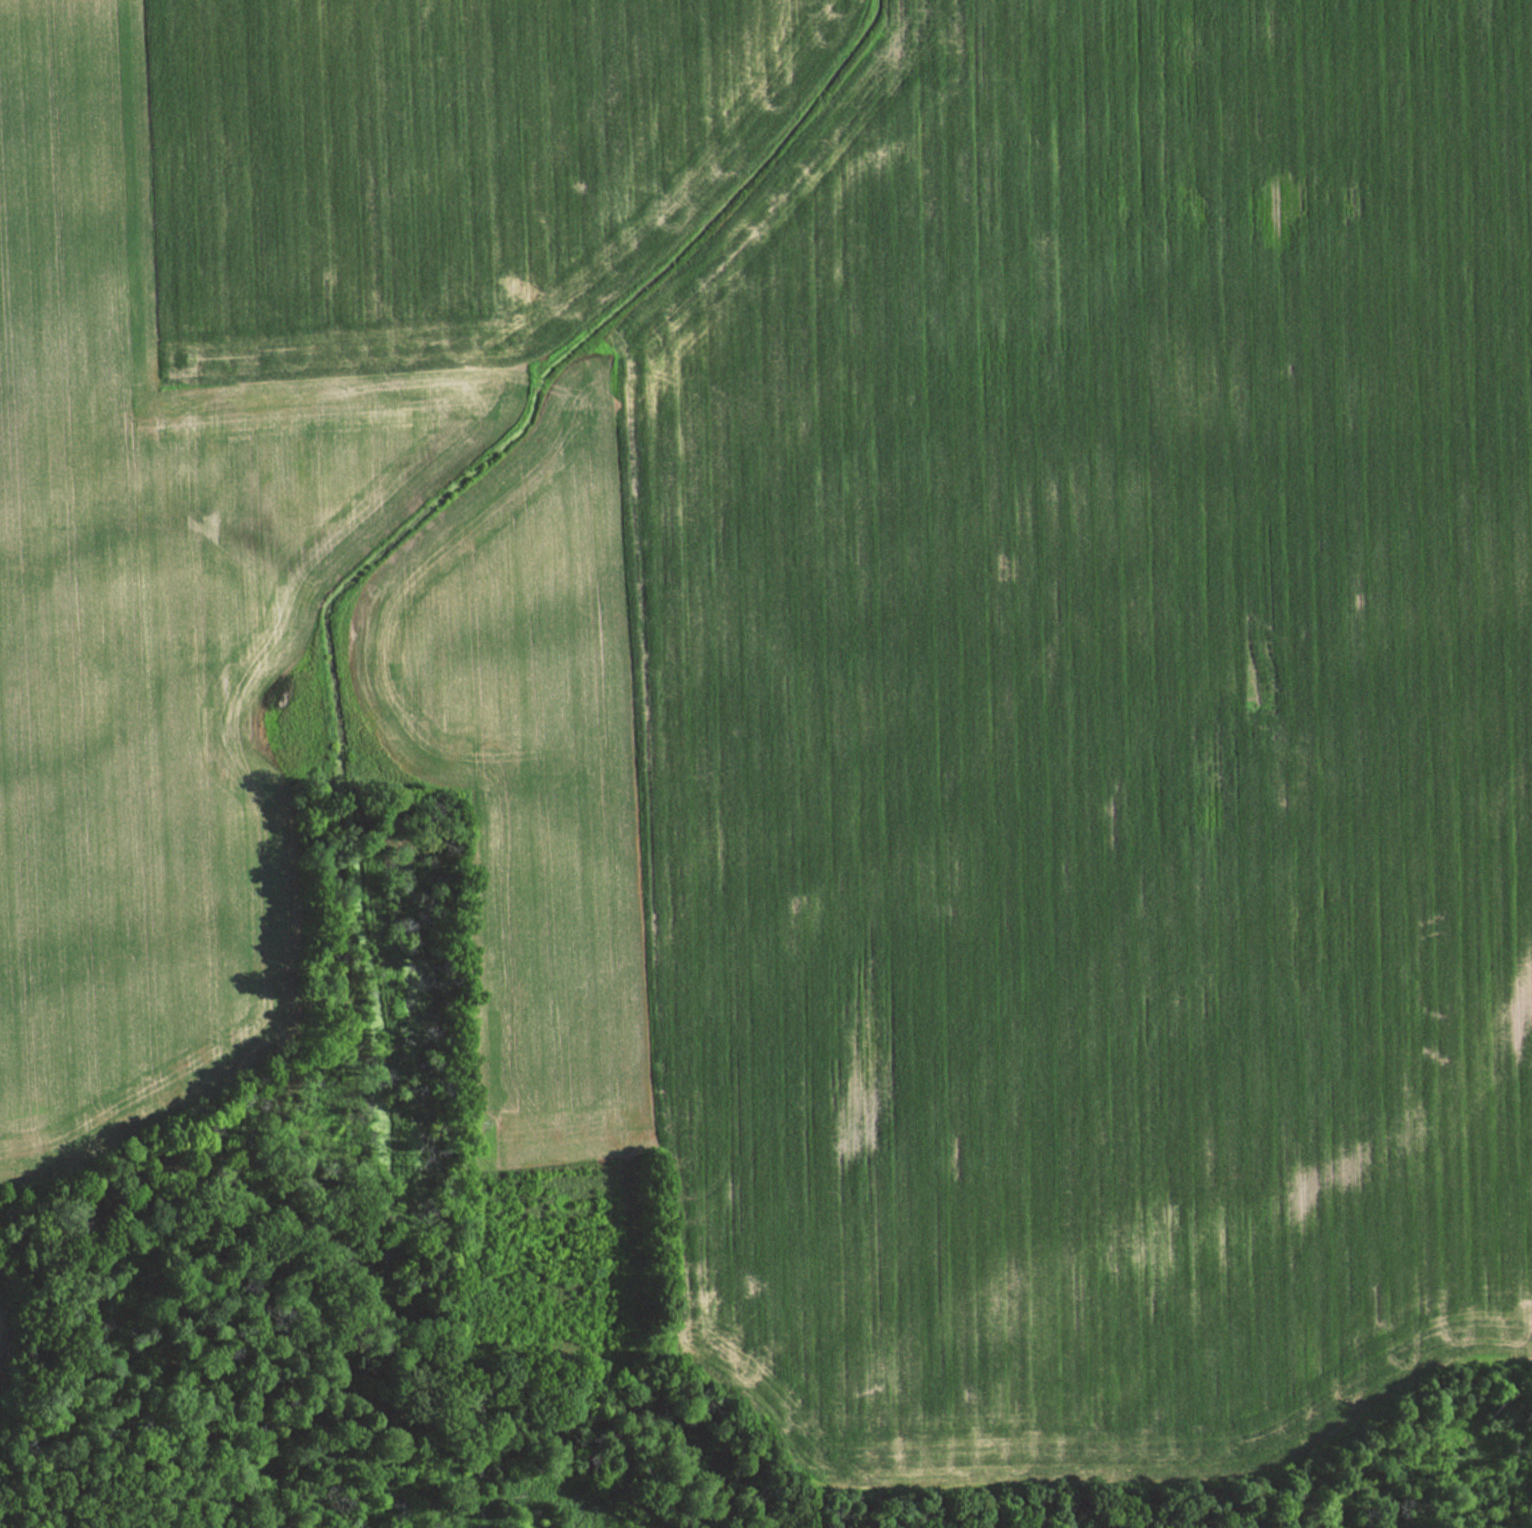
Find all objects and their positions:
crop: (429, 169)
crop: (148, 624)
crop: (1097, 754)
crop: (531, 795)

